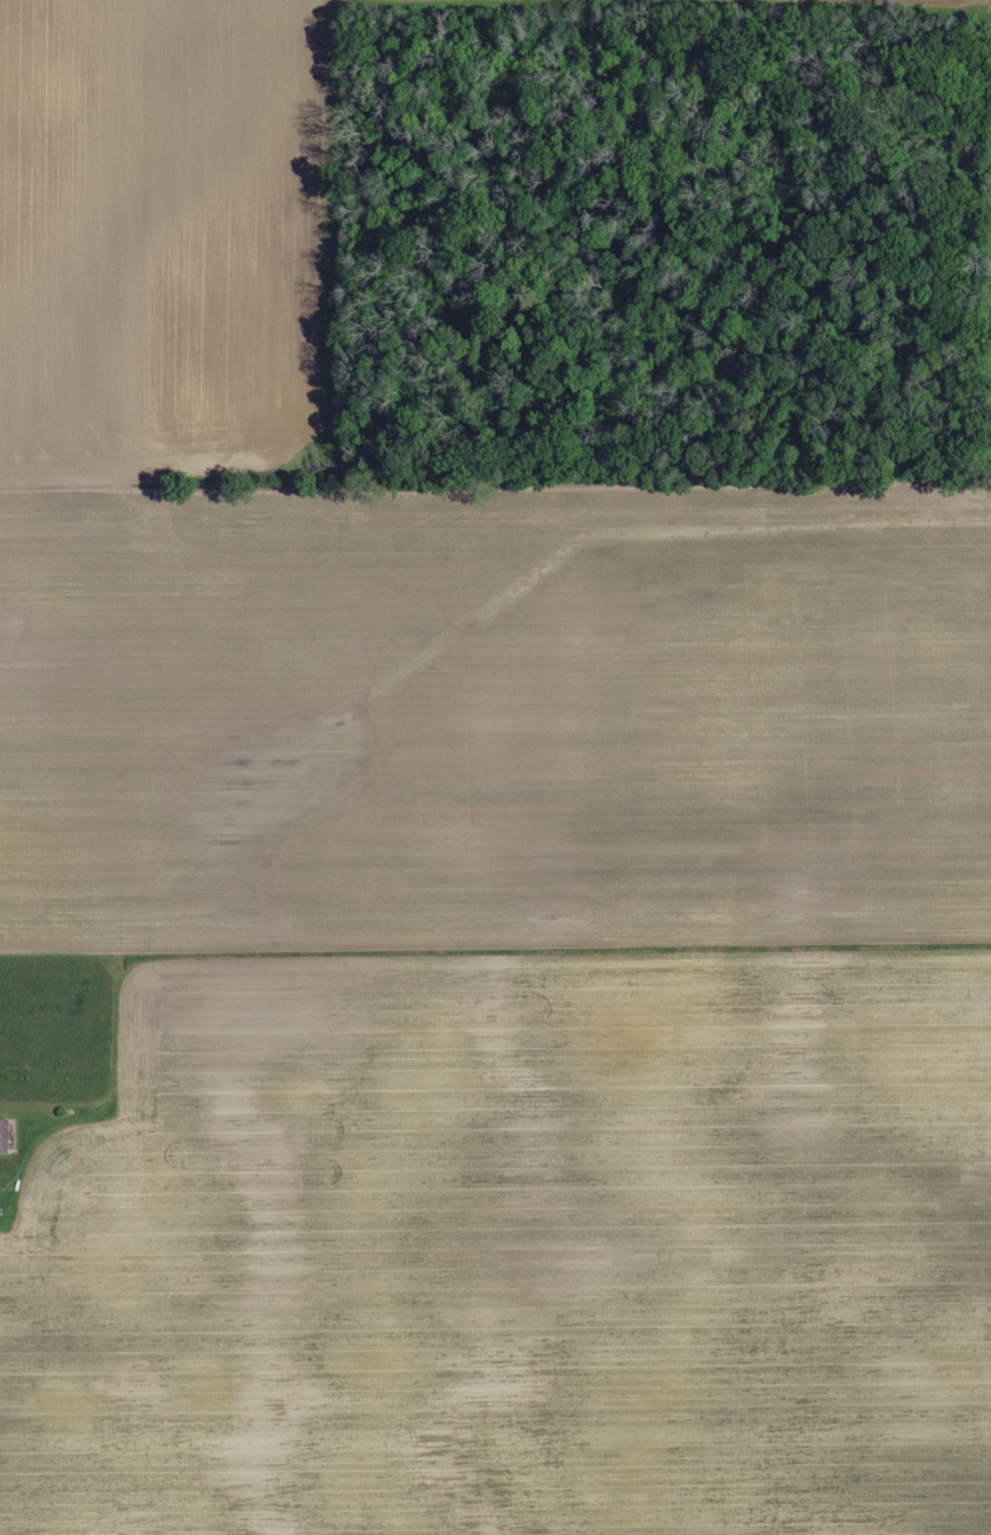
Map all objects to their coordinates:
crop: (463, 890)
building: (0, 1130)

